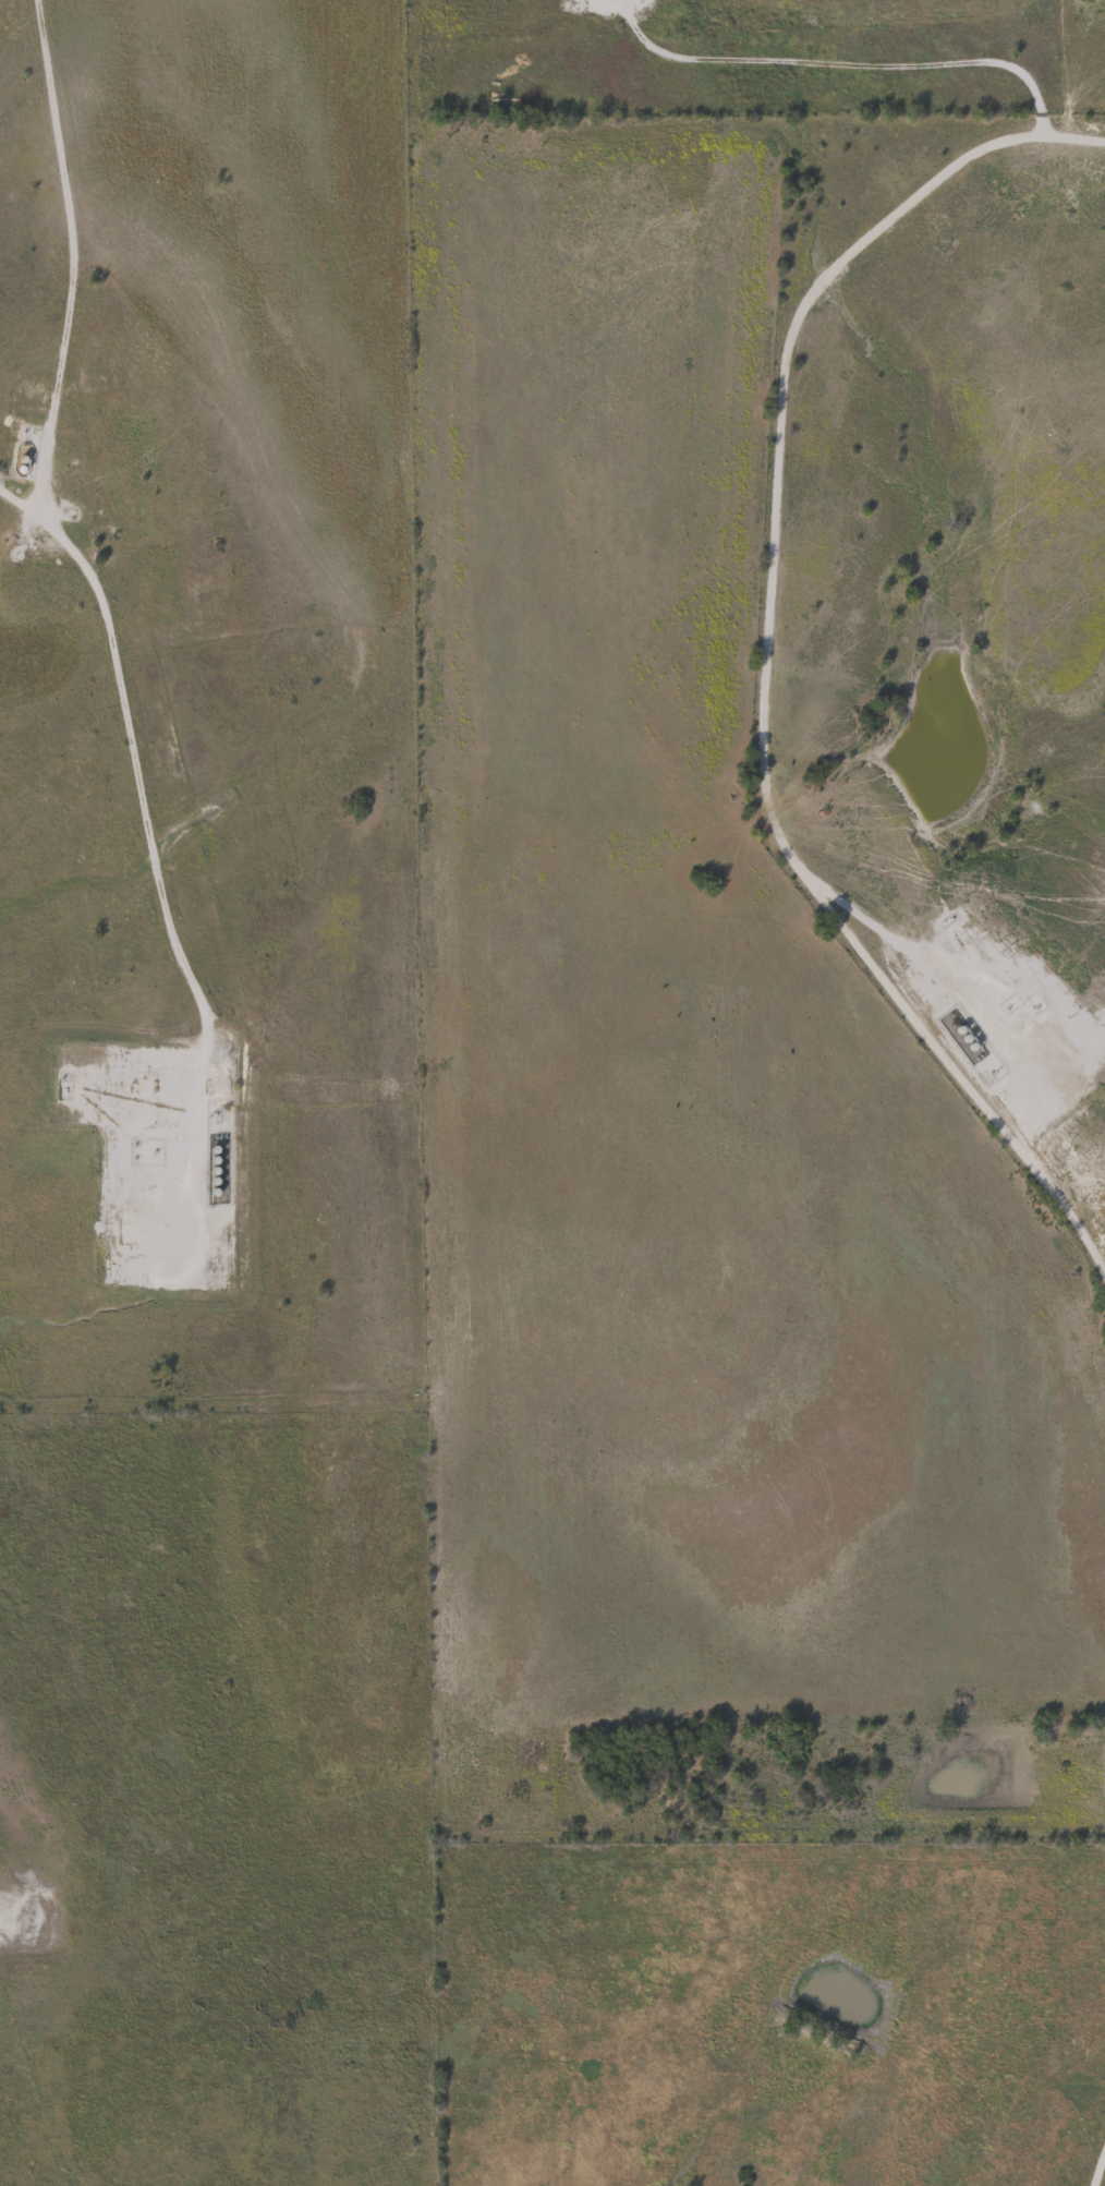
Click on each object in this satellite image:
road: (841, 63)
road: (68, 270)
road: (763, 663)
road: (139, 789)
road: (1098, 2166)

